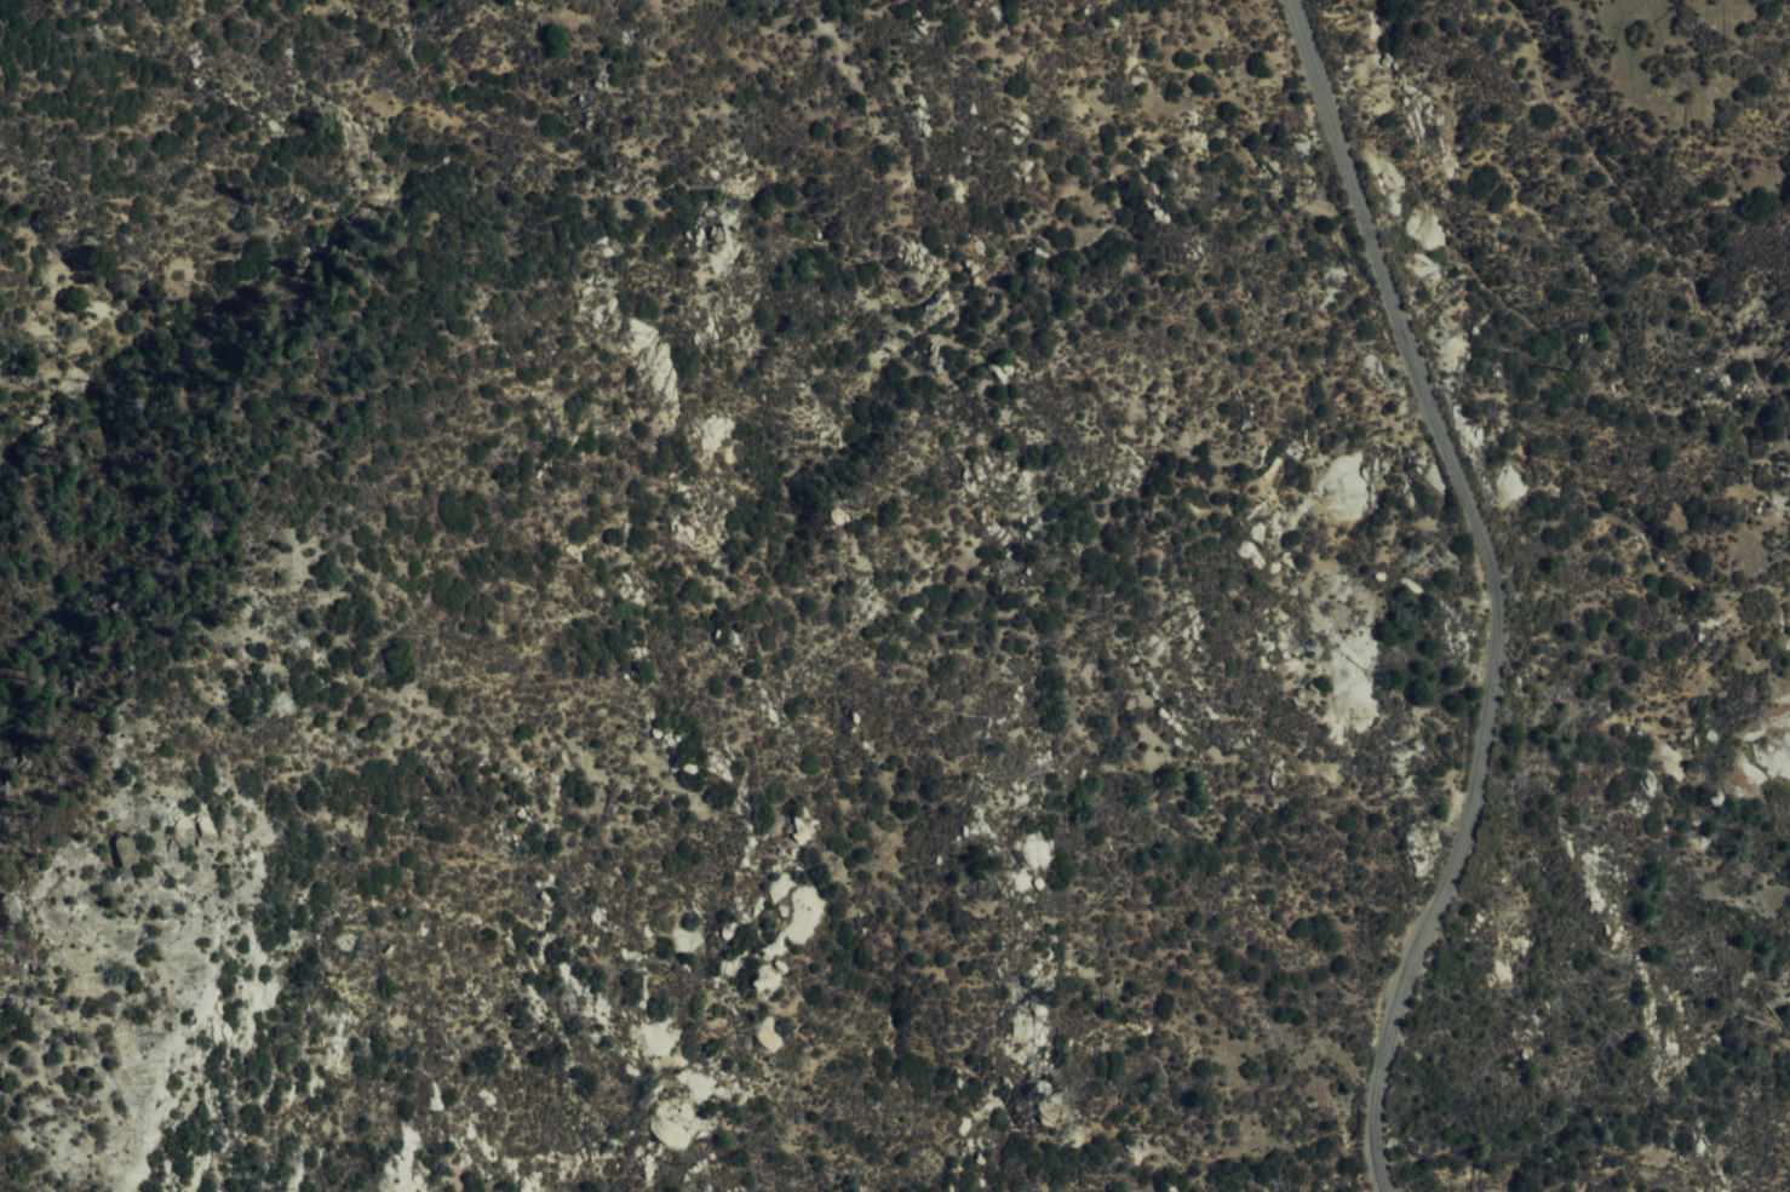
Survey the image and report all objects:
road: (1491, 590)

